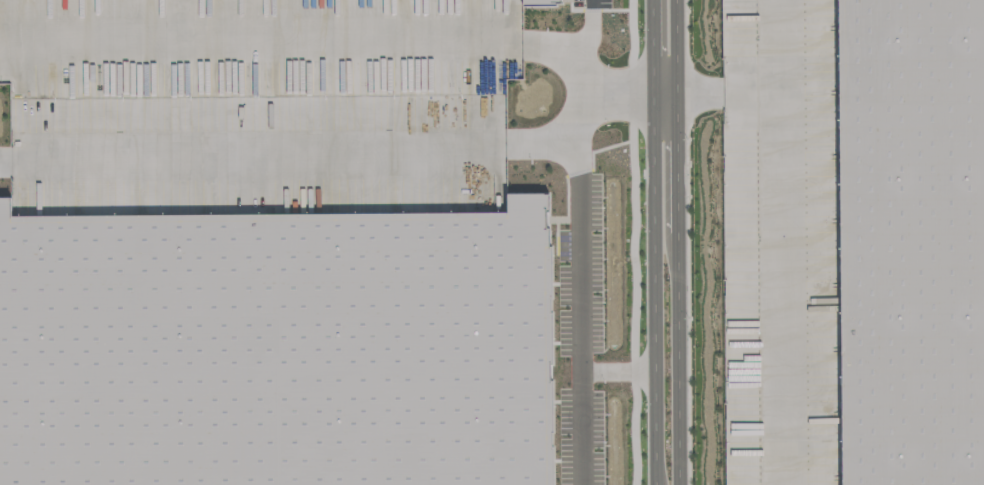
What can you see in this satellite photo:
road: (295, 40)
road: (622, 90)
road: (716, 92)
road: (295, 142)
building: (790, 233)
building: (908, 240)
road: (588, 242)
road: (654, 242)
road: (675, 242)
road: (780, 242)
road: (620, 367)

